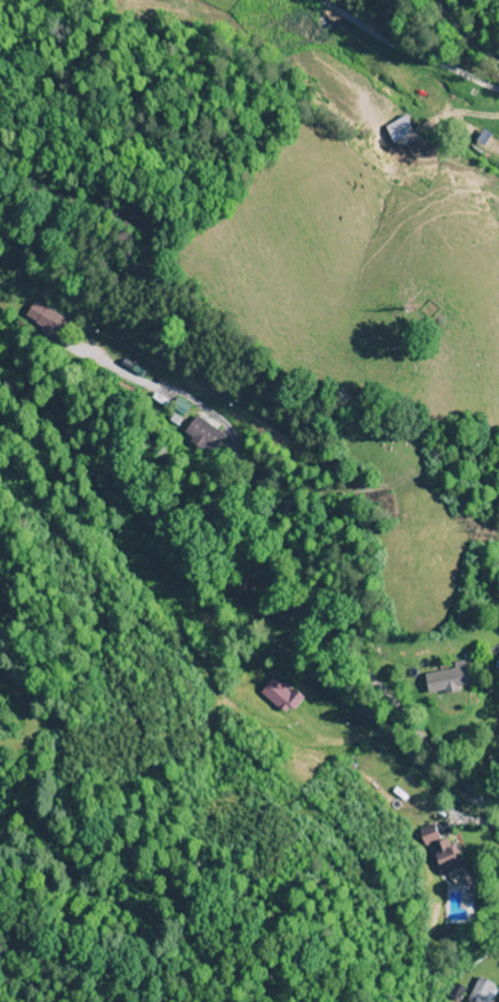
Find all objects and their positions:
building: (395, 130)
building: (47, 320)
building: (203, 435)
building: (443, 680)
road: (490, 818)
building: (442, 856)
building: (479, 991)

